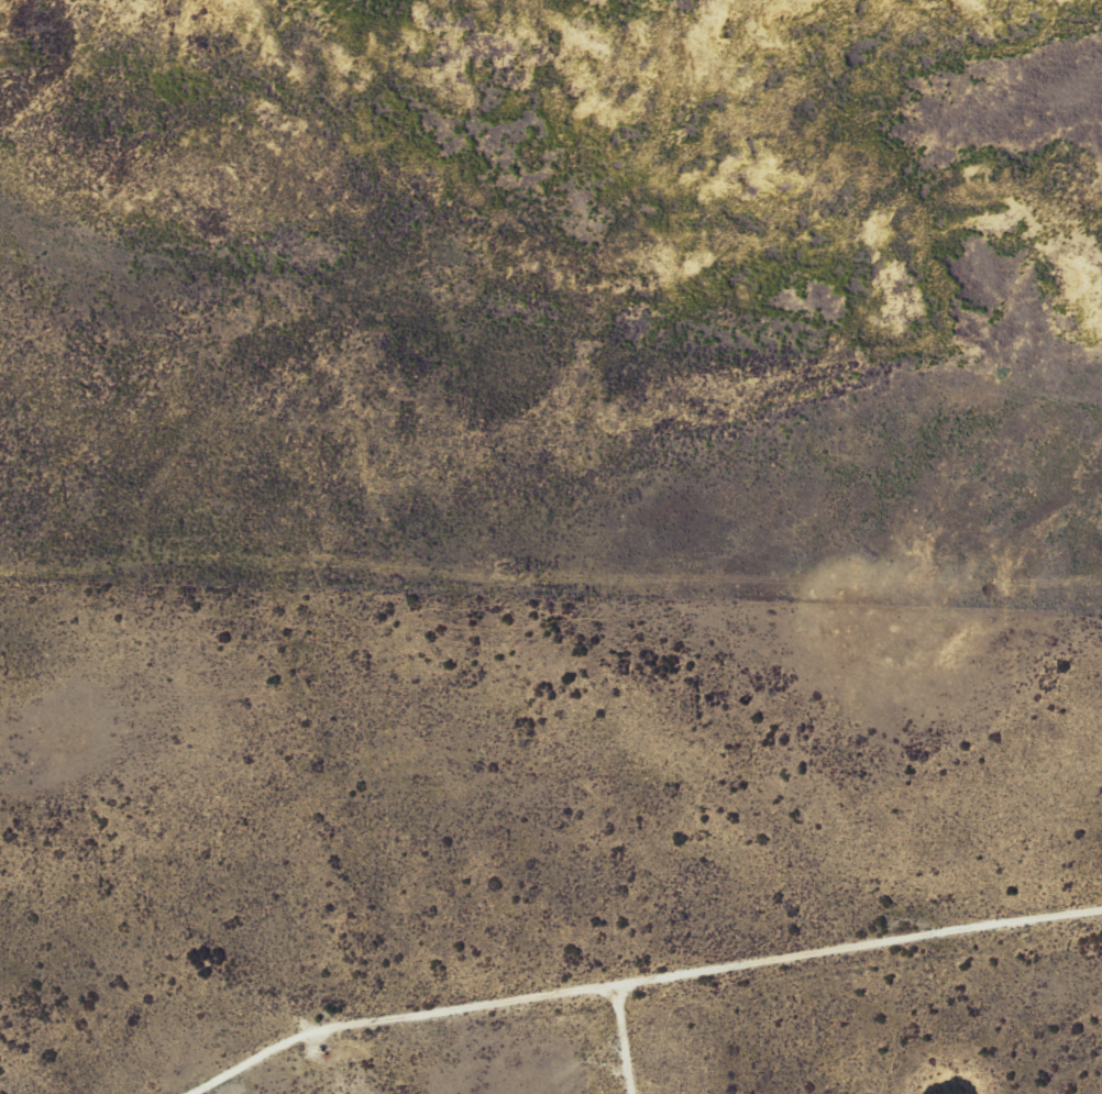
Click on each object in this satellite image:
road: (641, 985)

